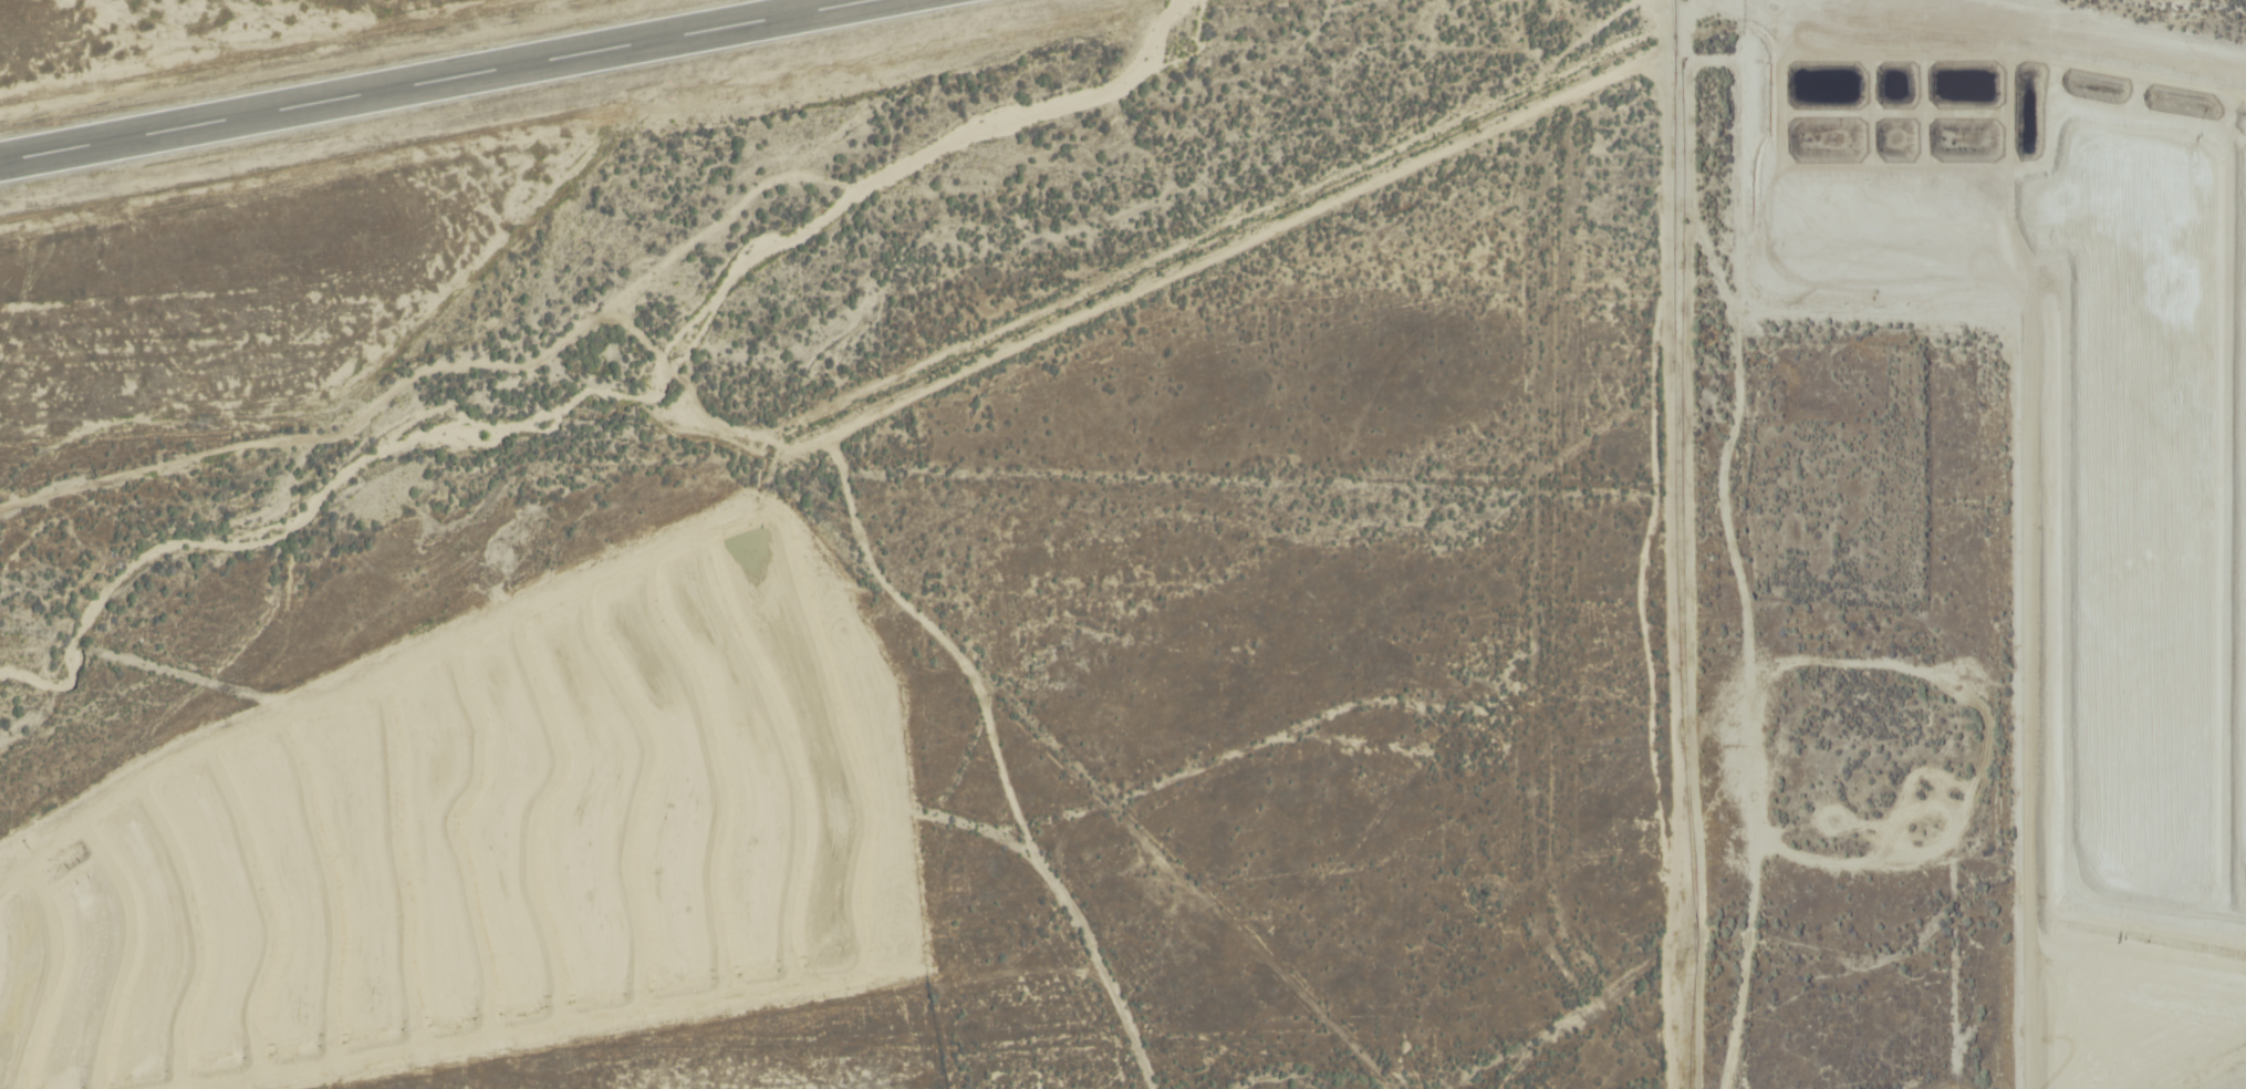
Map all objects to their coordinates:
airport runway: (430, 80)
airport: (343, 169)

